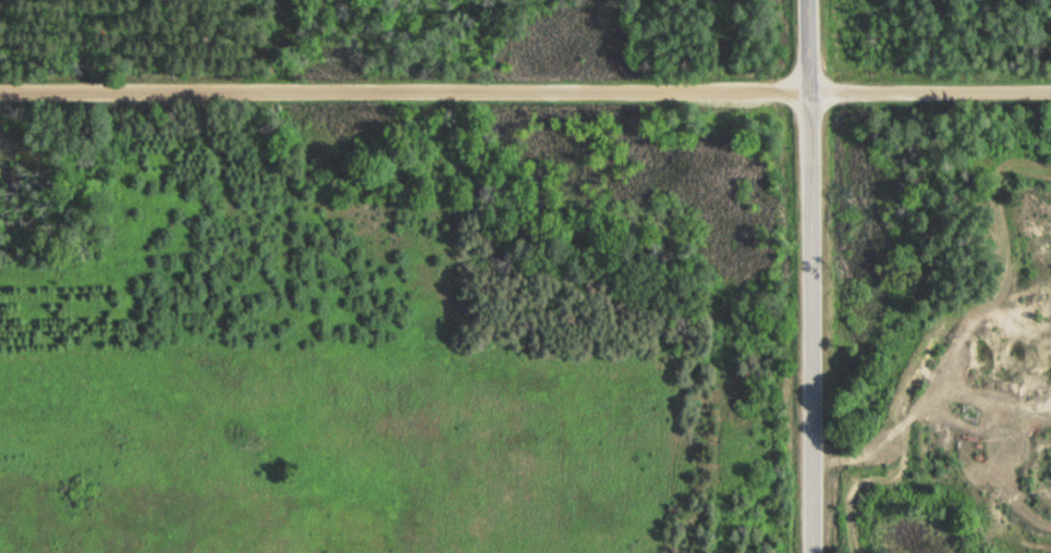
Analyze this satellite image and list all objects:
road: (525, 87)
road: (806, 275)

